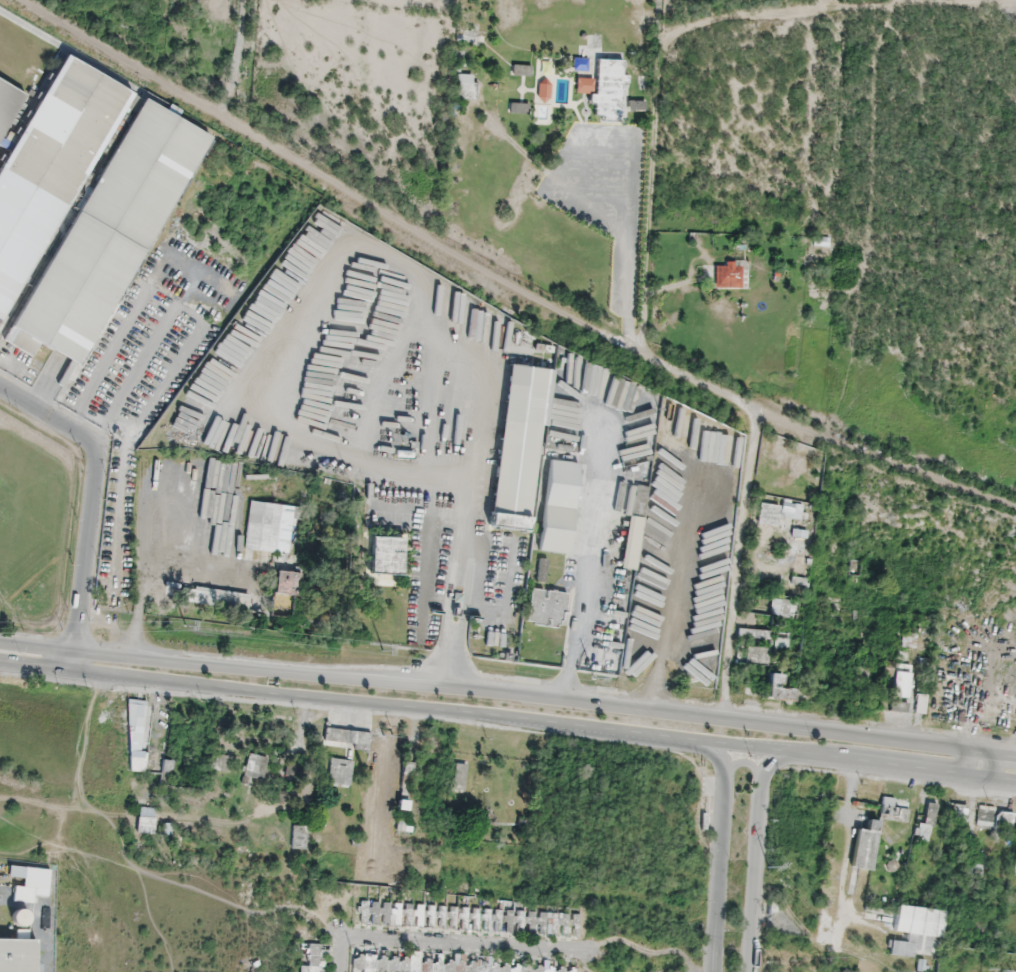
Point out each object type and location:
road: (662, 45)
building: (608, 70)
building: (582, 84)
building: (46, 164)
building: (99, 241)
road: (501, 287)
road: (48, 416)
building: (520, 429)
building: (562, 481)
building: (767, 513)
power substation: (980, 960)

